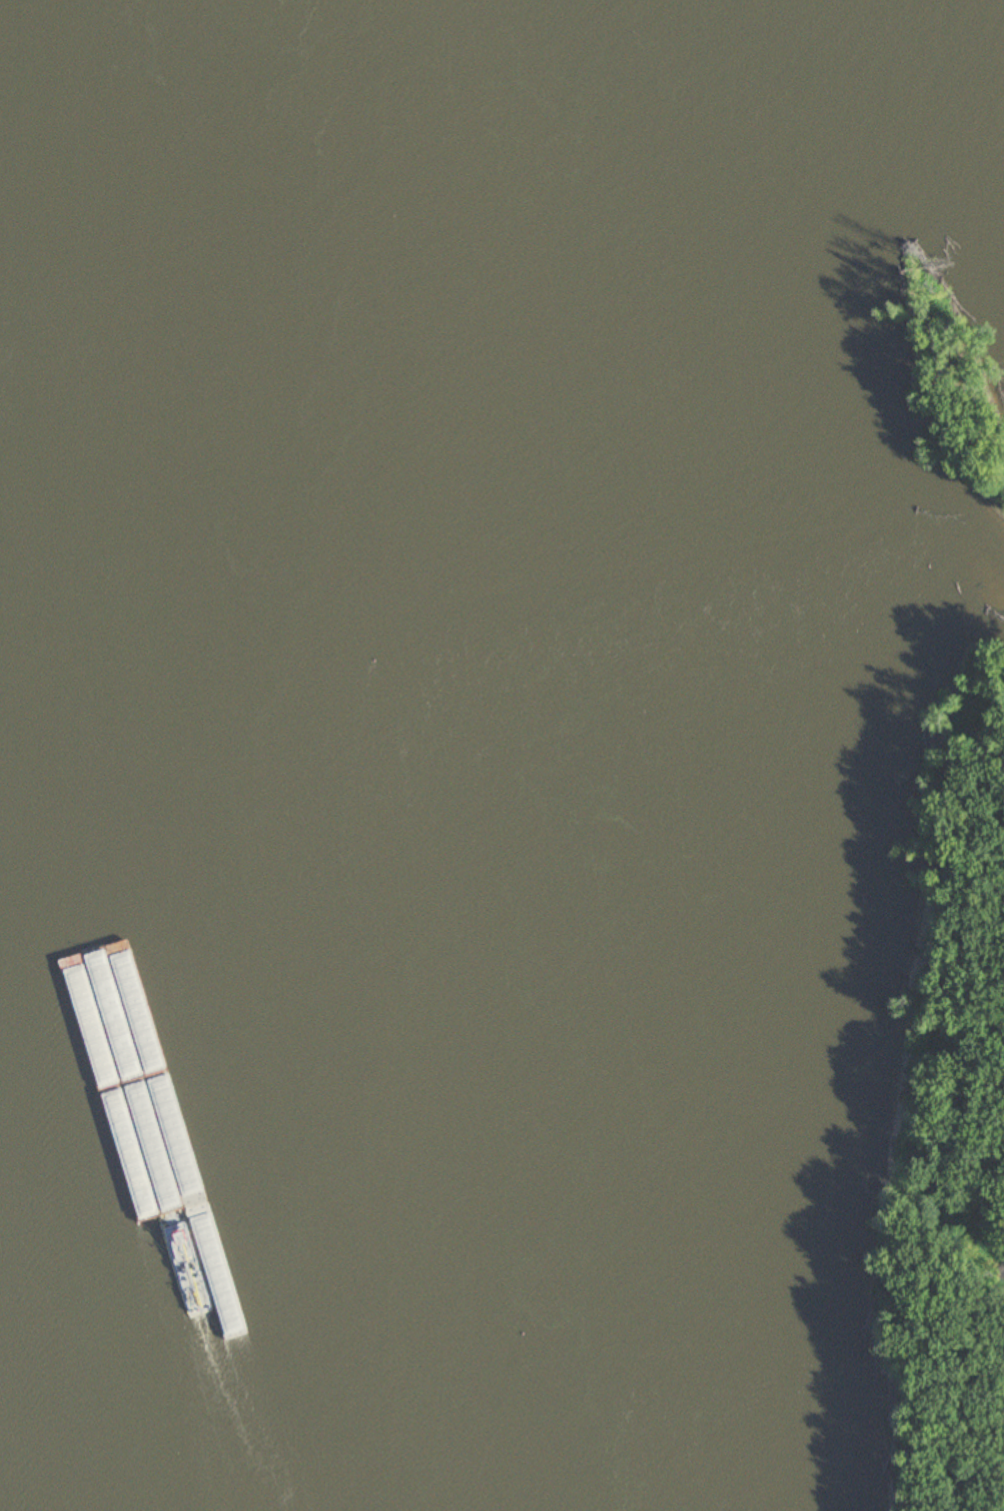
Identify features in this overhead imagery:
river: (116, 814)

